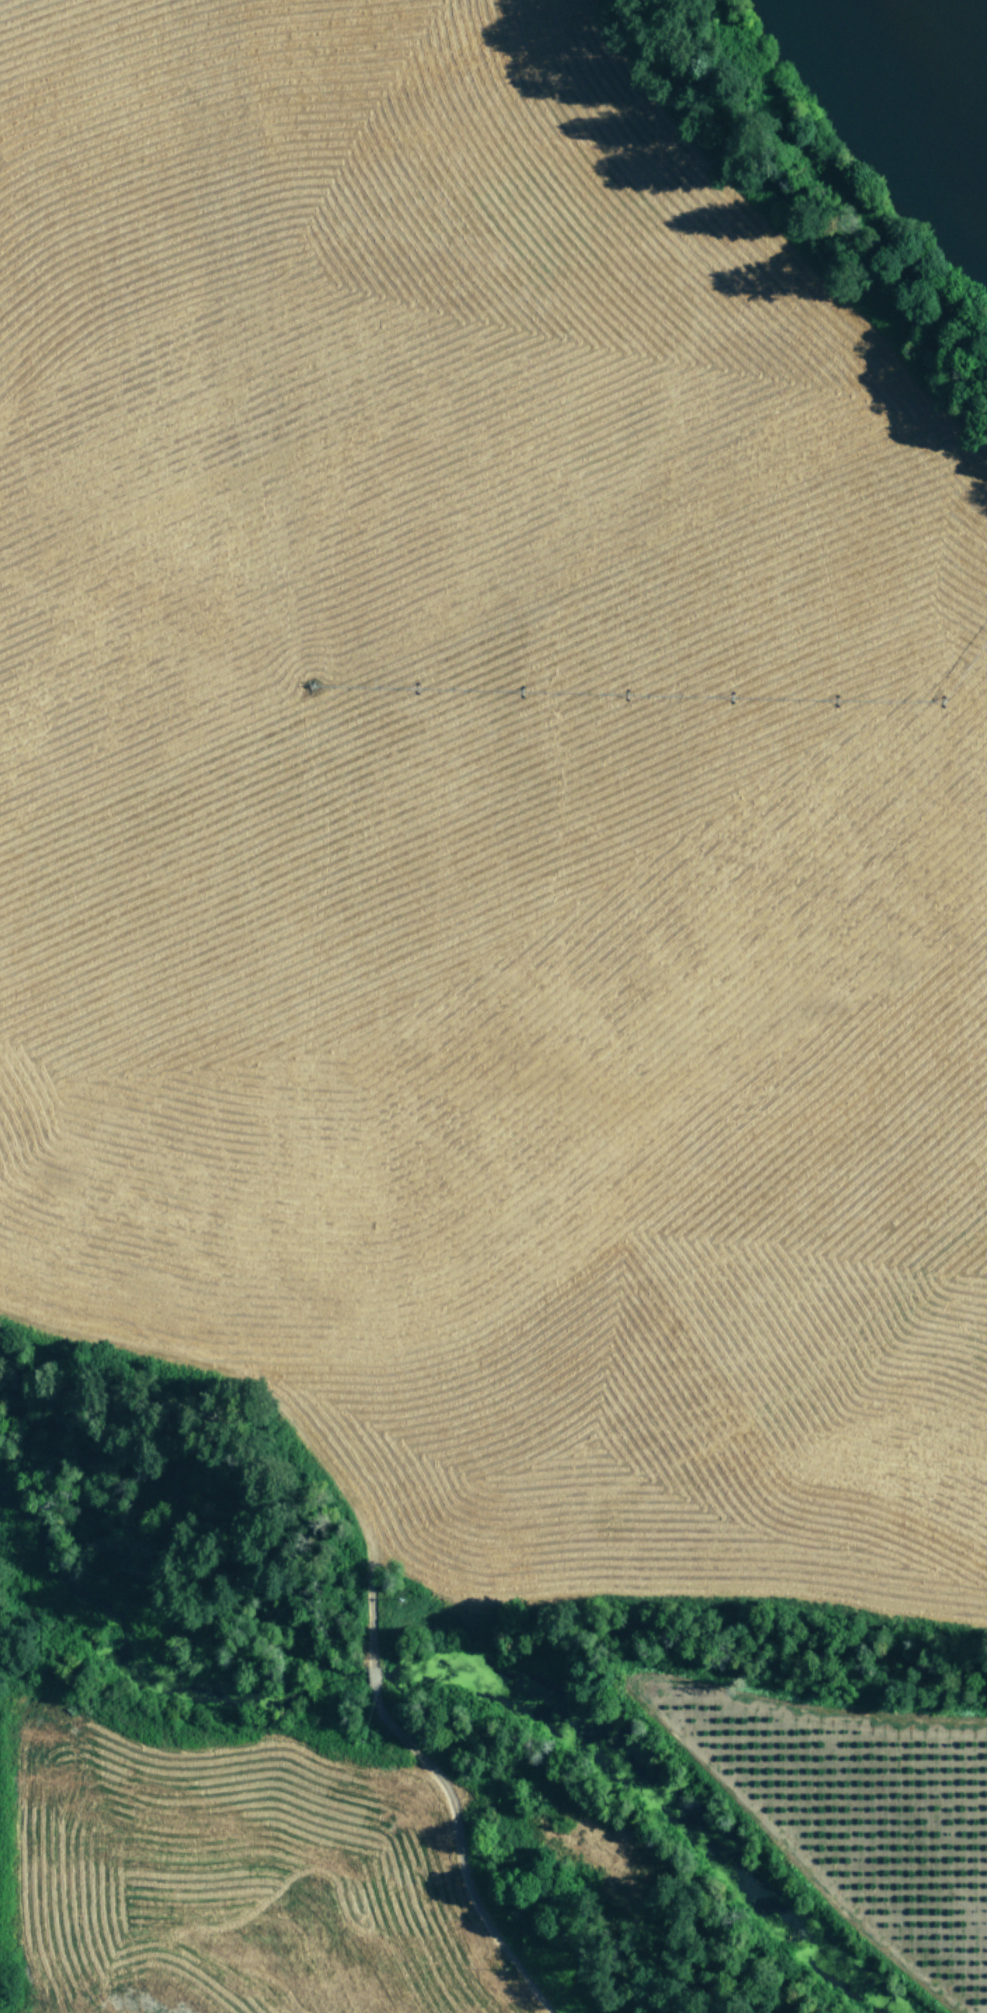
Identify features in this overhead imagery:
river: (938, 65)
road: (491, 1241)
crop: (851, 1788)
crop: (226, 1869)

